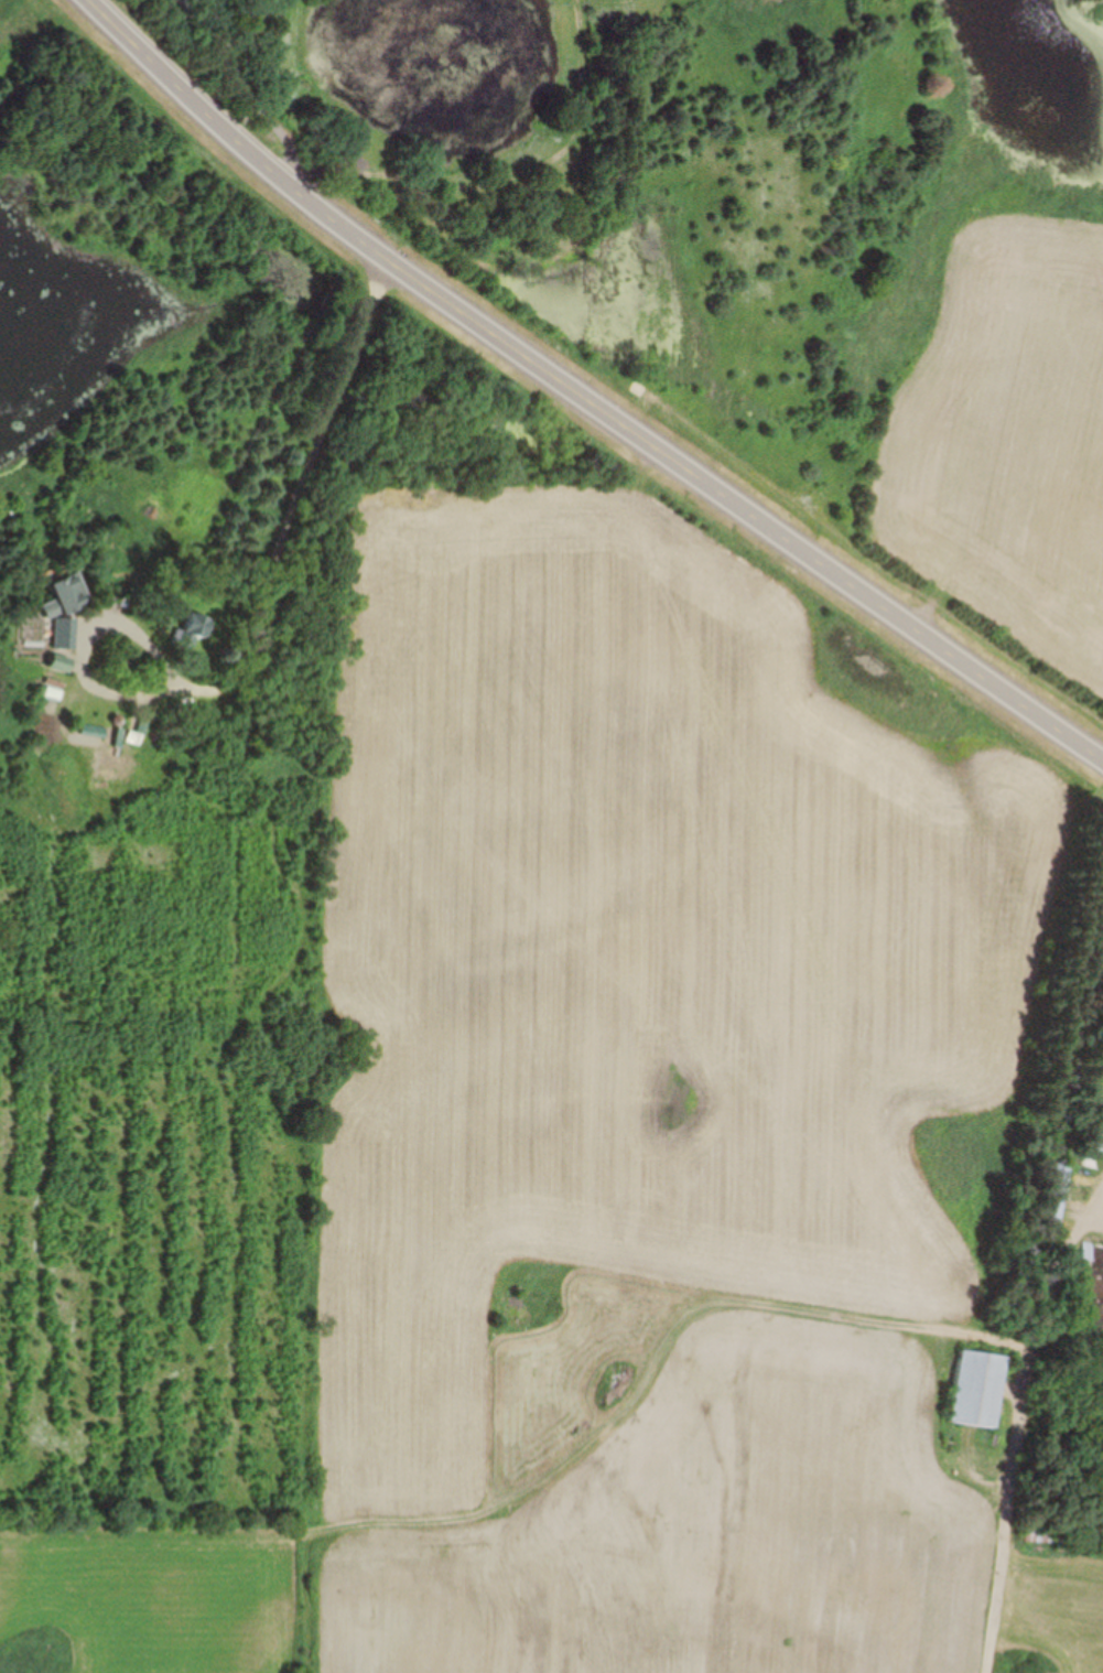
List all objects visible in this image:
road: (500, 176)
road: (584, 396)
road: (296, 494)
building: (67, 605)
building: (197, 627)
road: (93, 686)
building: (1100, 1093)
building: (1095, 1134)
building: (1056, 1197)
building: (1092, 1259)
building: (974, 1389)

